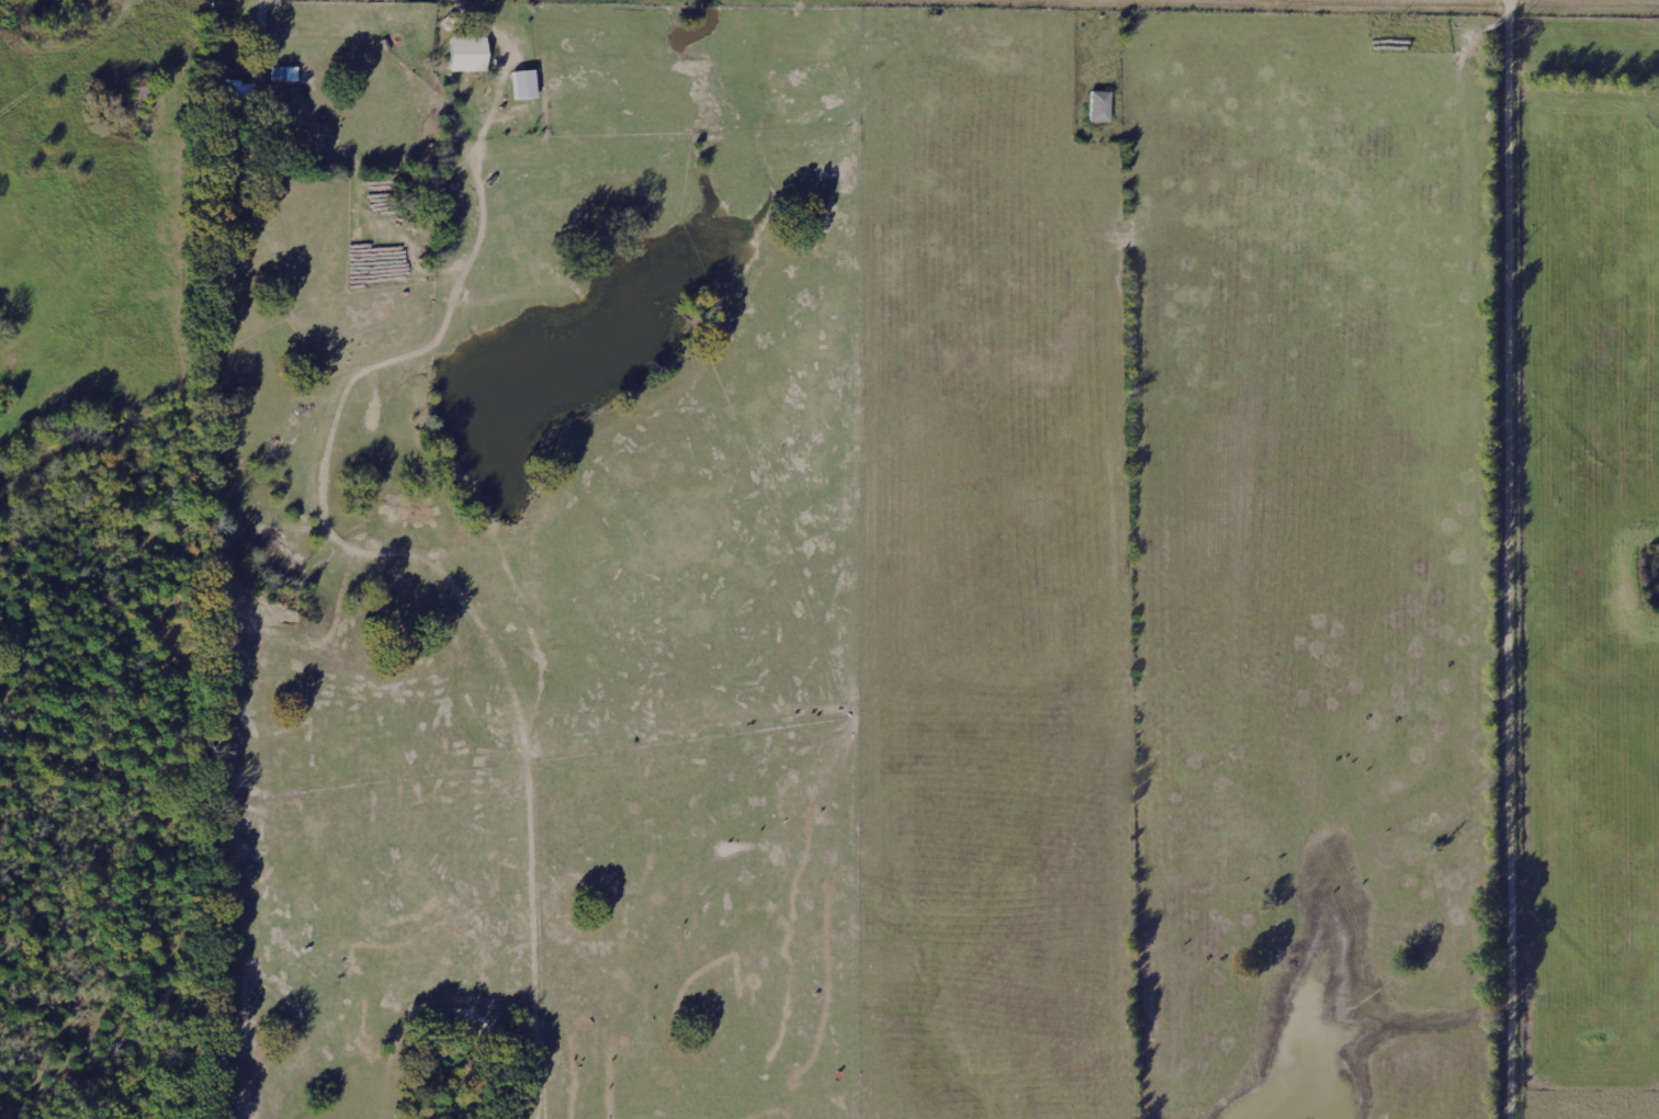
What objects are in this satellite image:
building: (519, 84)
building: (1095, 106)
road: (1519, 558)

